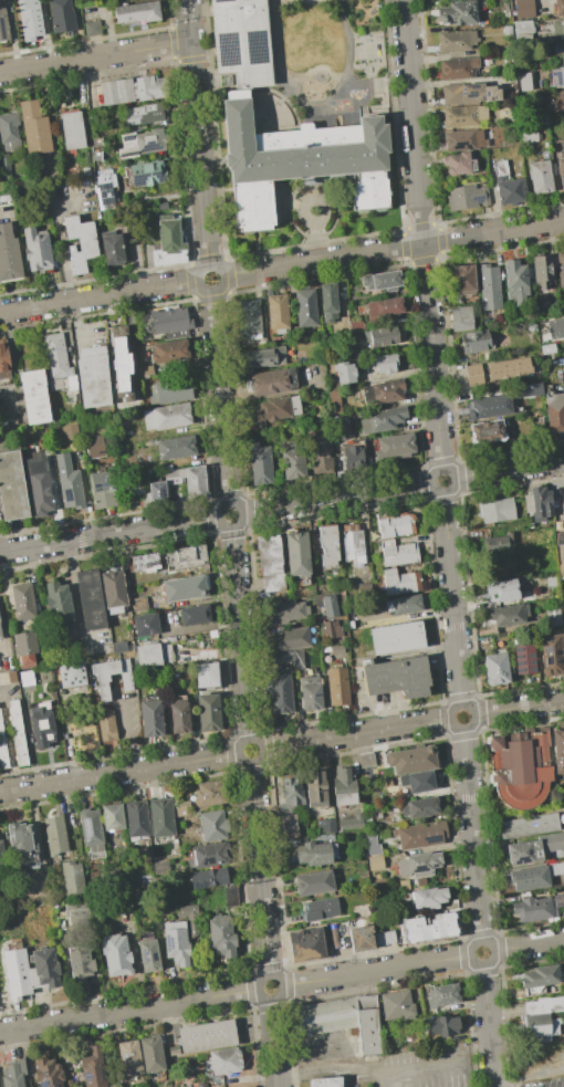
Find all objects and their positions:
building: (560, 8)
building: (524, 9)
building: (137, 12)
building: (457, 13)
building: (62, 15)
building: (30, 19)
building: (3, 24)
building: (523, 27)
building: (92, 28)
building: (557, 28)
building: (506, 30)
building: (545, 40)
building: (456, 41)
building: (560, 51)
park: (330, 53)
road: (94, 56)
building: (536, 64)
building: (458, 67)
building: (557, 76)
building: (133, 90)
building: (464, 93)
building: (558, 101)
building: (152, 112)
building: (463, 116)
building: (237, 118)
road: (412, 121)
building: (543, 121)
building: (34, 128)
building: (72, 130)
building: (10, 132)
road: (197, 133)
building: (530, 134)
building: (462, 140)
building: (96, 143)
building: (142, 143)
building: (95, 157)
building: (4, 161)
building: (460, 163)
building: (561, 170)
building: (86, 171)
building: (144, 174)
building: (539, 177)
building: (508, 185)
building: (102, 188)
building: (466, 197)
road: (493, 232)
road: (59, 237)
building: (80, 243)
building: (165, 243)
building: (36, 250)
building: (113, 250)
building: (9, 253)
road: (321, 260)
building: (561, 268)
building: (545, 272)
road: (219, 273)
building: (380, 281)
building: (462, 281)
building: (515, 281)
building: (489, 286)
road: (100, 297)
building: (328, 301)
building: (305, 307)
building: (382, 309)
building: (278, 313)
building: (249, 318)
building: (460, 320)
building: (169, 321)
building: (356, 324)
building: (341, 325)
building: (531, 327)
building: (555, 327)
building: (180, 333)
building: (296, 333)
building: (382, 336)
building: (476, 342)
building: (547, 348)
building: (168, 351)
building: (352, 351)
road: (431, 355)
building: (55, 356)
building: (264, 357)
building: (4, 360)
building: (386, 363)
building: (121, 364)
building: (509, 367)
building: (145, 370)
building: (345, 373)
building: (473, 375)
building: (93, 376)
building: (272, 382)
building: (71, 383)
building: (528, 389)
building: (170, 390)
building: (380, 391)
building: (333, 395)
building: (34, 396)
road: (219, 397)
building: (490, 407)
building: (278, 408)
building: (554, 412)
building: (167, 416)
building: (383, 419)
building: (341, 428)
building: (488, 430)
building: (70, 431)
building: (25, 433)
road: (2, 445)
building: (93, 446)
building: (395, 446)
building: (176, 447)
building: (321, 452)
building: (352, 458)
building: (259, 463)
building: (292, 463)
building: (336, 469)
road: (509, 469)
road: (451, 474)
building: (171, 477)
building: (194, 481)
building: (67, 482)
building: (12, 487)
building: (39, 487)
building: (103, 489)
building: (157, 492)
road: (335, 498)
building: (537, 503)
road: (239, 509)
building: (495, 511)
building: (395, 524)
building: (558, 525)
road: (108, 534)
building: (353, 543)
building: (497, 543)
building: (327, 545)
building: (296, 553)
building: (398, 553)
building: (561, 554)
building: (185, 557)
building: (145, 562)
building: (270, 562)
building: (403, 582)
building: (185, 588)
building: (503, 589)
building: (115, 592)
road: (76, 597)
road: (451, 598)
building: (91, 599)
building: (563, 599)
building: (23, 600)
building: (58, 604)
building: (138, 604)
building: (404, 604)
building: (328, 606)
building: (284, 613)
building: (508, 614)
building: (196, 615)
building: (553, 618)
building: (0, 624)
building: (146, 625)
building: (331, 629)
road: (239, 633)
building: (499, 633)
building: (0, 635)
road: (3, 636)
building: (397, 637)
building: (289, 638)
building: (73, 647)
building: (121, 647)
building: (25, 649)
building: (337, 649)
building: (153, 655)
building: (551, 655)
building: (279, 657)
building: (297, 659)
building: (524, 659)
building: (495, 667)
building: (72, 673)
building: (174, 675)
building: (206, 675)
building: (396, 677)
building: (102, 678)
building: (27, 679)
building: (337, 686)
building: (310, 692)
building: (280, 693)
road: (519, 707)
road: (384, 709)
road: (472, 711)
building: (209, 712)
building: (179, 714)
building: (152, 718)
building: (41, 724)
building: (105, 724)
building: (18, 733)
road: (123, 733)
road: (355, 734)
road: (259, 744)
building: (3, 748)
building: (558, 750)
building: (366, 760)
building: (412, 760)
building: (521, 765)
road: (119, 773)
building: (417, 782)
building: (344, 786)
building: (315, 788)
building: (209, 793)
building: (291, 795)
building: (419, 807)
building: (181, 808)
building: (378, 815)
building: (113, 816)
building: (161, 817)
building: (137, 819)
building: (367, 819)
building: (351, 822)
building: (218, 825)
building: (325, 825)
building: (529, 825)
building: (289, 826)
building: (385, 832)
building: (92, 833)
building: (55, 835)
building: (419, 835)
road: (471, 835)
building: (318, 838)
building: (23, 844)
building: (533, 848)
building: (314, 853)
building: (2, 856)
building: (208, 856)
building: (374, 860)
building: (418, 864)
road: (259, 868)
building: (556, 869)
building: (72, 878)
building: (209, 878)
building: (529, 878)
building: (147, 879)
building: (315, 882)
building: (401, 885)
building: (524, 895)
building: (230, 896)
building: (426, 897)
building: (59, 905)
building: (321, 909)
building: (534, 909)
building: (186, 910)
building: (75, 912)
building: (429, 928)
building: (221, 937)
building: (361, 938)
building: (385, 938)
building: (306, 944)
building: (176, 945)
road: (529, 945)
road: (491, 947)
building: (116, 955)
building: (149, 955)
building: (80, 962)
building: (43, 968)
building: (15, 970)
road: (376, 971)
building: (540, 979)
road: (280, 983)
building: (438, 995)
building: (395, 1004)
building: (544, 1005)
road: (128, 1010)
building: (325, 1016)
building: (368, 1025)
building: (441, 1025)
road: (488, 1025)
building: (537, 1026)
building: (386, 1031)
building: (207, 1036)
road: (275, 1043)
building: (152, 1054)
building: (129, 1057)
building: (223, 1062)
building: (93, 1067)
parking lot: (427, 1068)
road: (369, 1069)
building: (48, 1073)
road: (528, 1073)
building: (14, 1074)
road: (386, 1080)
building: (325, 1081)
parking lot: (543, 1081)
building: (69, 1084)

